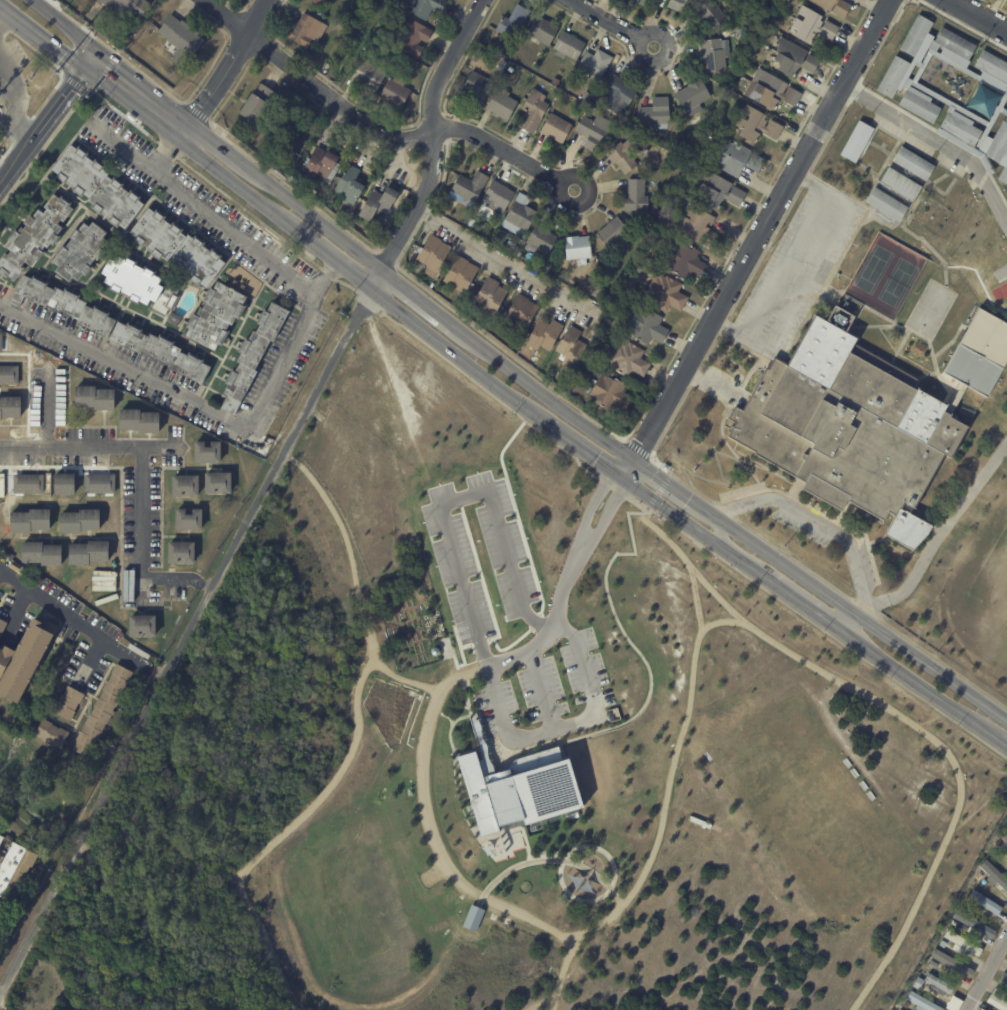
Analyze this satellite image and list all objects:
building: (448, 0)
building: (318, 2)
building: (395, 2)
building: (639, 2)
building: (675, 5)
building: (131, 7)
building: (425, 7)
building: (833, 7)
road: (4, 9)
building: (706, 15)
road: (978, 15)
road: (4, 19)
road: (612, 23)
building: (812, 25)
road: (66, 26)
building: (512, 26)
building: (306, 30)
building: (542, 32)
building: (742, 33)
building: (915, 34)
building: (410, 37)
road: (47, 41)
building: (184, 41)
building: (954, 42)
building: (566, 47)
building: (712, 56)
building: (792, 59)
traffic signals: (92, 61)
building: (594, 64)
building: (992, 65)
road: (227, 66)
building: (511, 69)
building: (366, 74)
building: (892, 75)
building: (174, 81)
road: (314, 83)
building: (555, 84)
building: (475, 88)
building: (769, 91)
road: (138, 95)
building: (394, 95)
building: (614, 95)
building: (693, 96)
building: (919, 104)
building: (262, 105)
building: (500, 106)
road: (16, 107)
building: (531, 112)
building: (656, 114)
building: (755, 125)
building: (960, 127)
road: (47, 128)
building: (555, 129)
building: (591, 135)
building: (856, 140)
road: (938, 142)
building: (998, 142)
road: (433, 144)
road: (169, 149)
road: (505, 150)
building: (621, 156)
building: (734, 158)
building: (912, 162)
building: (326, 166)
building: (1003, 172)
building: (655, 175)
road: (5, 176)
building: (900, 183)
building: (101, 187)
building: (355, 187)
building: (468, 187)
building: (716, 193)
building: (497, 198)
building: (634, 198)
building: (385, 202)
building: (886, 204)
road: (205, 208)
building: (442, 210)
building: (344, 213)
building: (521, 216)
building: (698, 226)
building: (611, 234)
building: (643, 236)
building: (35, 237)
building: (653, 238)
road: (756, 239)
building: (378, 240)
building: (539, 240)
building: (180, 248)
building: (510, 248)
building: (575, 249)
building: (82, 253)
building: (432, 256)
building: (549, 258)
building: (683, 260)
road: (504, 261)
road: (784, 265)
parking lot: (796, 268)
building: (458, 275)
park: (884, 276)
road: (811, 279)
building: (141, 284)
track: (1000, 289)
building: (665, 293)
building: (487, 297)
building: (619, 306)
park: (929, 310)
building: (518, 313)
building: (221, 319)
building: (646, 326)
building: (114, 328)
building: (541, 335)
building: (2, 345)
building: (570, 347)
building: (979, 351)
building: (258, 358)
building: (627, 360)
road: (388, 371)
building: (11, 376)
road: (710, 386)
parking lot: (720, 386)
building: (587, 390)
building: (608, 395)
building: (97, 399)
road: (47, 408)
building: (11, 409)
road: (208, 409)
building: (142, 422)
road: (593, 427)
building: (848, 428)
road: (90, 446)
road: (585, 449)
building: (211, 454)
building: (66, 482)
building: (103, 482)
building: (31, 483)
building: (220, 485)
building: (188, 488)
road: (659, 490)
road: (459, 497)
road: (590, 508)
road: (606, 517)
building: (33, 520)
building: (82, 520)
building: (191, 521)
road: (820, 523)
parking lot: (801, 527)
road: (938, 531)
road: (719, 532)
road: (665, 540)
road: (141, 546)
building: (45, 552)
building: (91, 552)
building: (184, 554)
parking lot: (454, 555)
parking lot: (868, 563)
building: (19, 565)
park: (994, 581)
road: (557, 603)
road: (719, 621)
road: (849, 621)
road: (81, 623)
building: (142, 625)
building: (1, 627)
road: (564, 628)
road: (185, 633)
building: (74, 638)
building: (61, 639)
building: (24, 659)
road: (452, 679)
road: (409, 680)
road: (541, 692)
building: (73, 701)
road: (642, 707)
building: (104, 710)
road: (454, 717)
building: (54, 732)
road: (532, 738)
road: (934, 742)
road: (354, 745)
park: (504, 758)
road: (978, 767)
building: (520, 789)
park: (811, 801)
road: (661, 805)
road: (979, 807)
building: (1006, 838)
building: (2, 839)
building: (999, 844)
road: (158, 846)
road: (598, 847)
road: (543, 858)
road: (442, 860)
building: (17, 871)
building: (995, 874)
building: (980, 875)
building: (985, 902)
park: (347, 907)
building: (4, 916)
building: (473, 917)
building: (975, 923)
building: (964, 943)
building: (943, 944)
building: (953, 963)
building: (935, 964)
road: (987, 976)
building: (1004, 979)
building: (919, 982)
building: (939, 984)
building: (998, 999)
road: (539, 1002)
building: (923, 1002)
building: (907, 1004)
road: (0, 1008)

